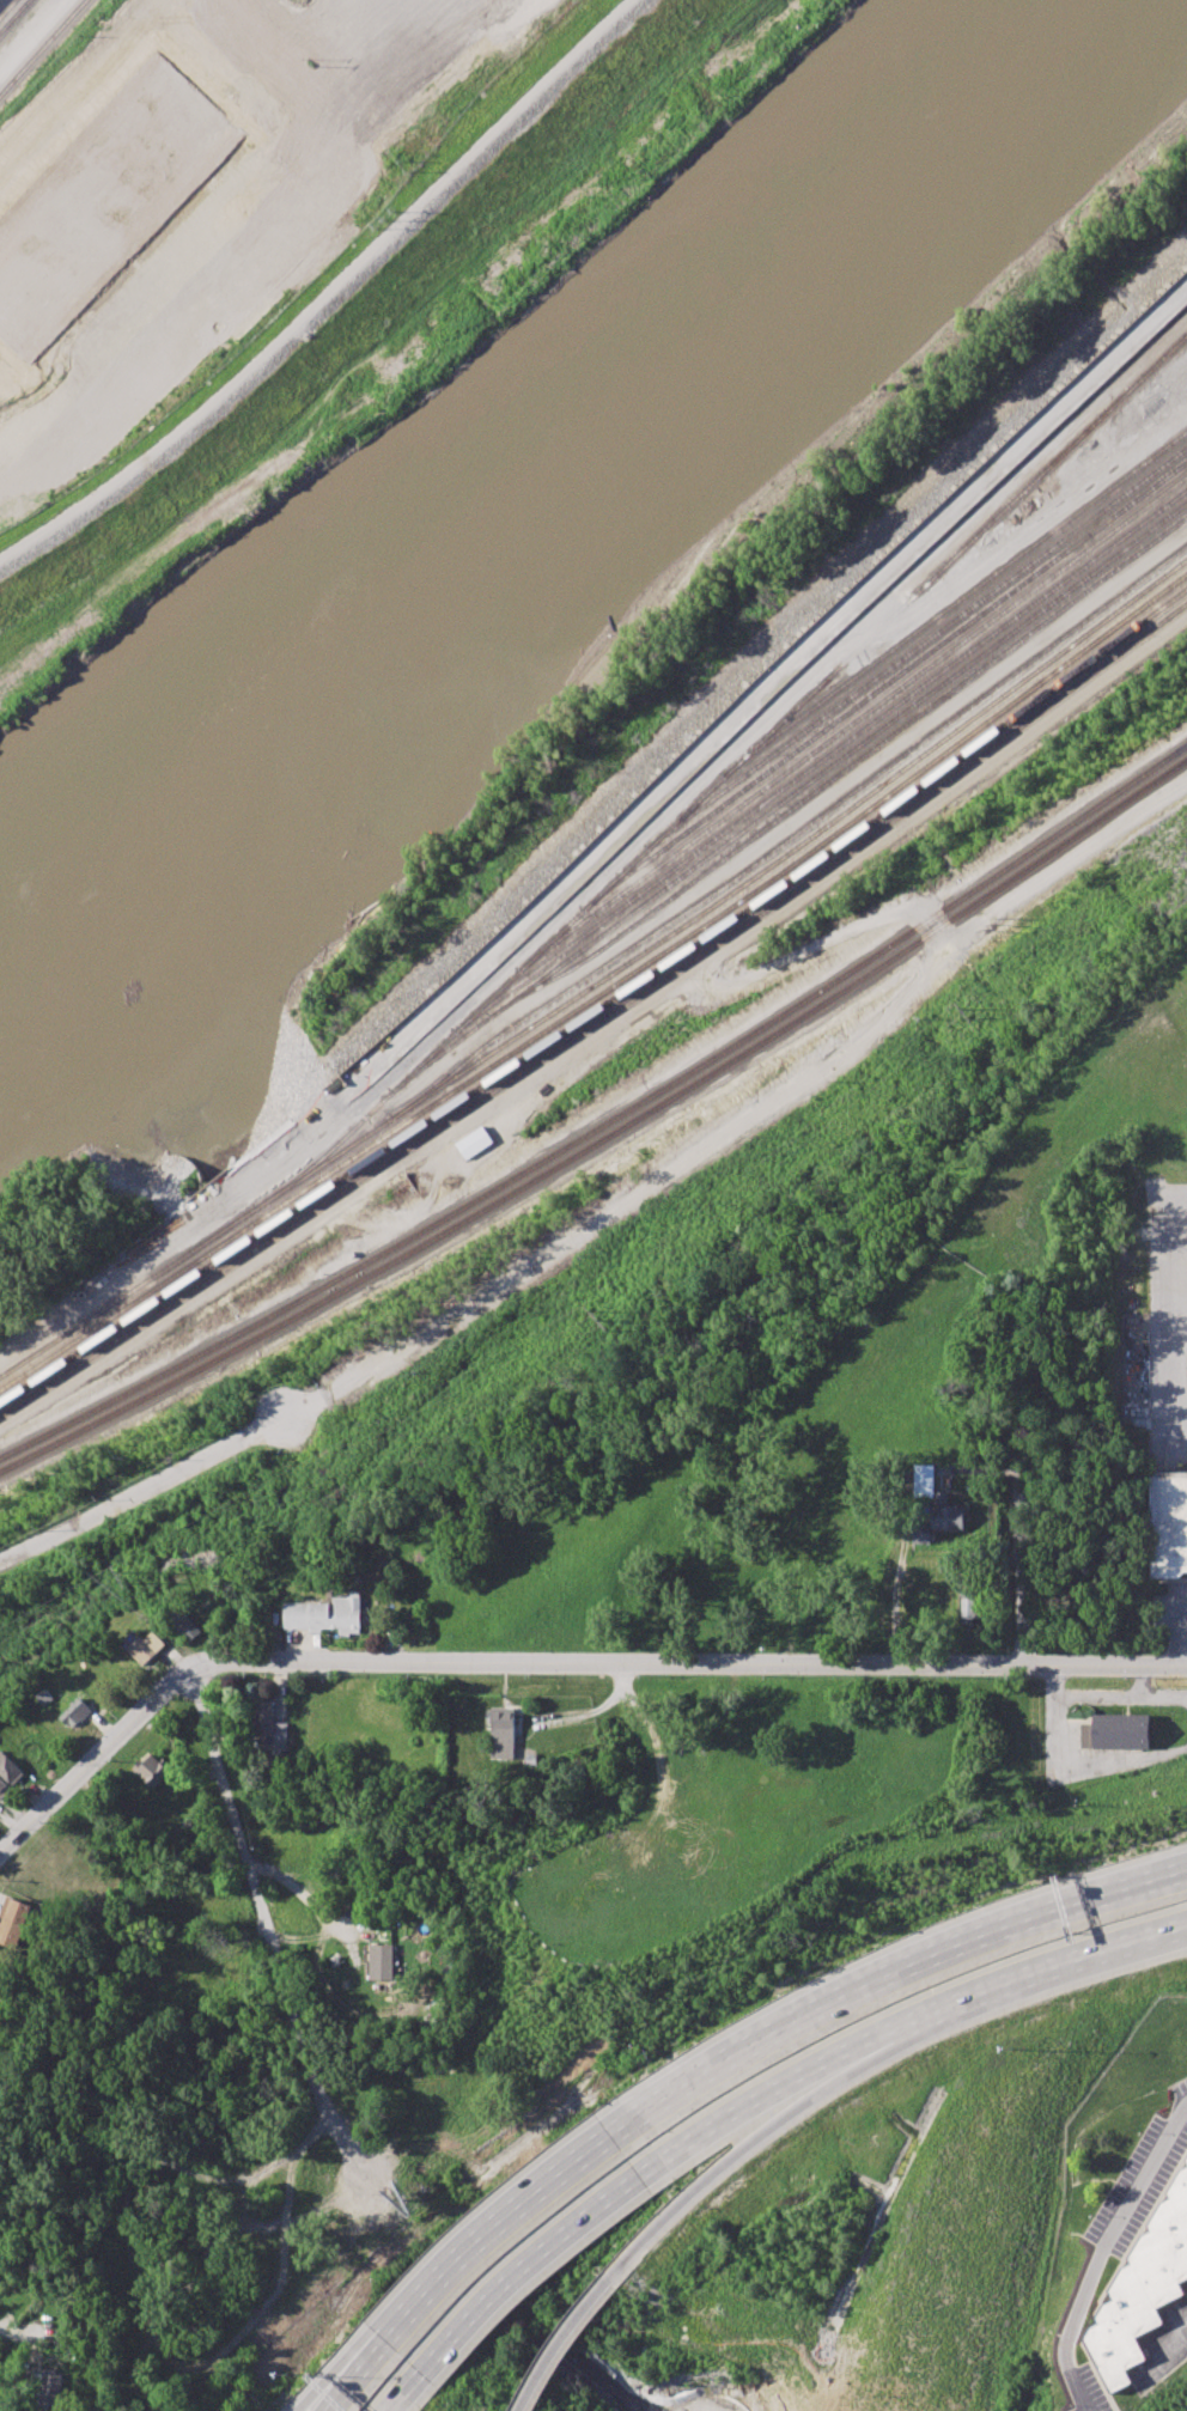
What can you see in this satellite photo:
railway: (0, 1)
railway: (7, 8)
building: (302, 11)
railway: (13, 16)
road: (189, 26)
railway: (43, 49)
building: (175, 254)
road: (328, 293)
railway: (1165, 357)
river: (548, 516)
railway: (951, 607)
railway: (925, 643)
railway: (887, 684)
road: (750, 706)
railway: (854, 719)
railway: (822, 757)
railway: (845, 768)
railway: (704, 796)
railway: (787, 796)
railway: (791, 834)
road: (1071, 863)
road: (826, 878)
railway: (601, 979)
railway: (602, 994)
railway: (601, 1006)
power tower: (970, 1015)
railway: (601, 1019)
river: (196, 1023)
railway: (607, 1122)
railway: (607, 1138)
building: (474, 1143)
road: (656, 1182)
road: (1179, 1305)
power tower: (607, 1322)
road: (1185, 1427)
road: (1023, 1459)
building: (924, 1477)
road: (166, 1478)
building: (941, 1520)
building: (1169, 1522)
power tower: (133, 1582)
building: (972, 1609)
building: (325, 1615)
building: (185, 1625)
road: (1173, 1631)
building: (145, 1649)
road: (692, 1664)
building: (75, 1713)
river: (352, 1724)
building: (269, 1730)
building: (504, 1733)
building: (1115, 1733)
road: (98, 1758)
building: (10, 1768)
building: (152, 1770)
building: (2, 1789)
road: (256, 1893)
road: (304, 1894)
building: (184, 1901)
building: (13, 1922)
building: (382, 1962)
road: (1033, 1965)
road: (899, 1977)
road: (768, 2084)
road: (810, 2088)
road: (686, 2197)
road: (509, 2230)
road: (1103, 2252)
road: (523, 2264)
building: (1144, 2293)
road: (572, 2324)
road: (23, 2328)
river: (560, 2338)
road: (729, 2344)
road: (1177, 2346)
road: (352, 2377)
road: (363, 2377)
building: (51, 2388)
road: (391, 2400)

